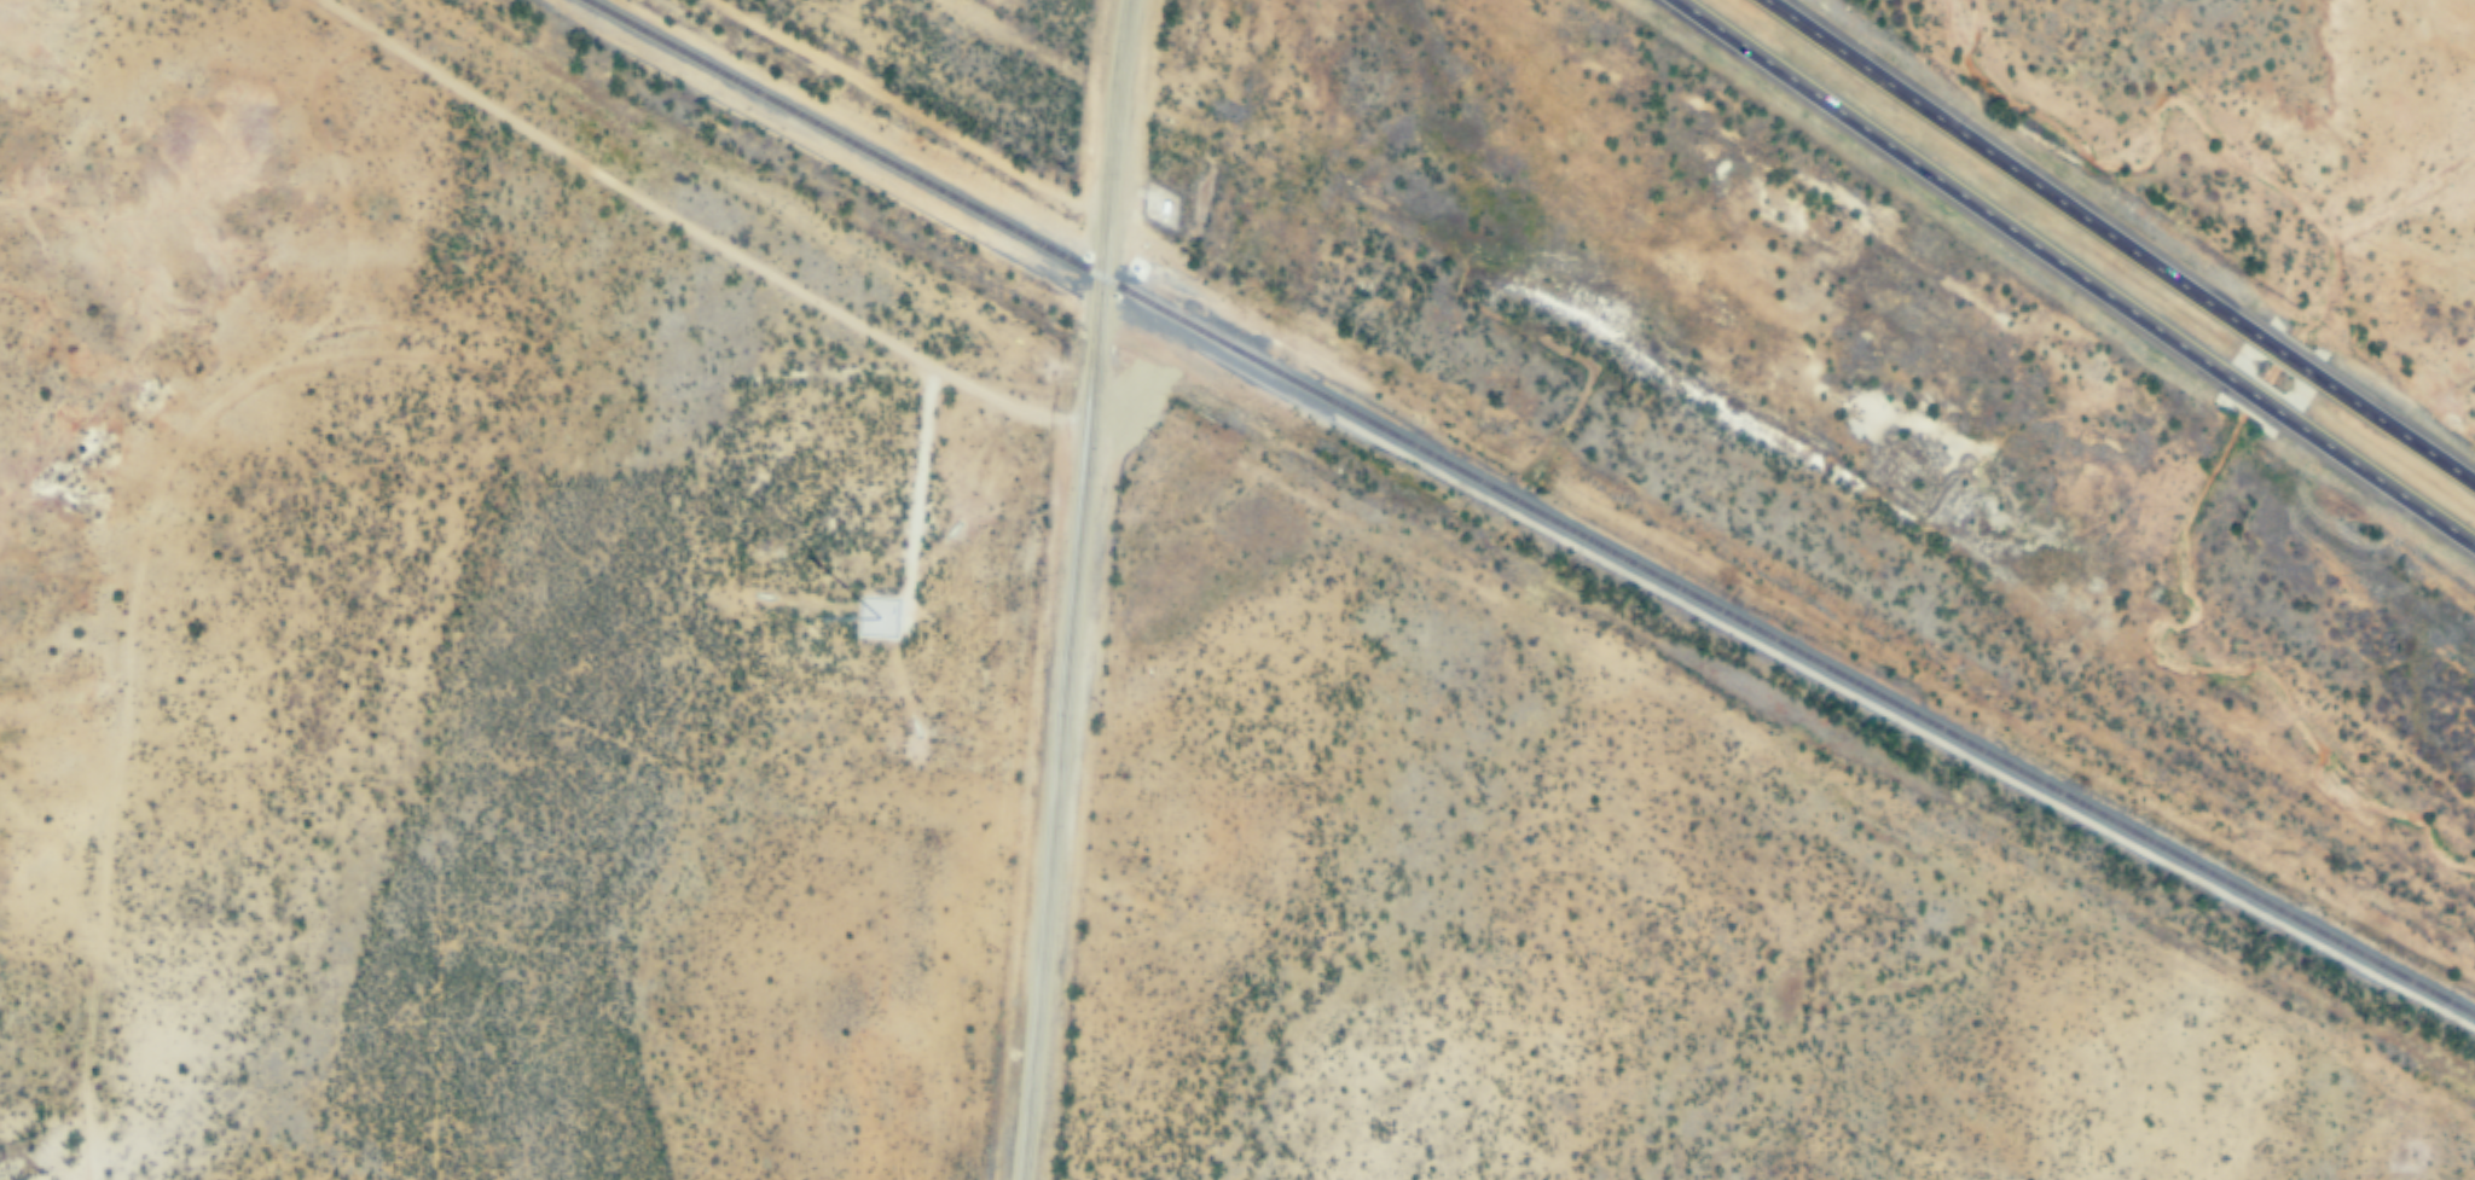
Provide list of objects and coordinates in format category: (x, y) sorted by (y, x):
road: (596, 181)
building: (1154, 202)
road: (2120, 244)
road: (2077, 268)
road: (261, 384)
railway: (1528, 511)
road: (1074, 589)

